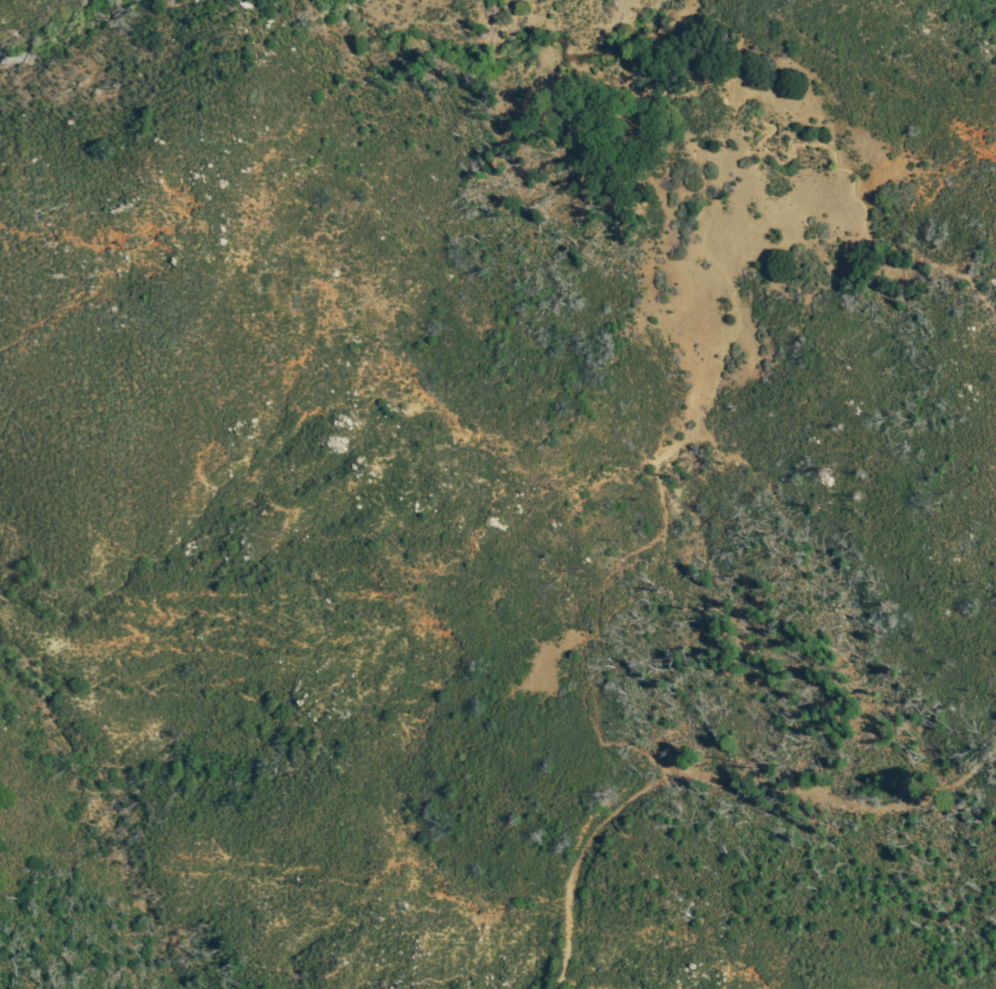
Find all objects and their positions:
road: (850, 68)
road: (716, 786)

